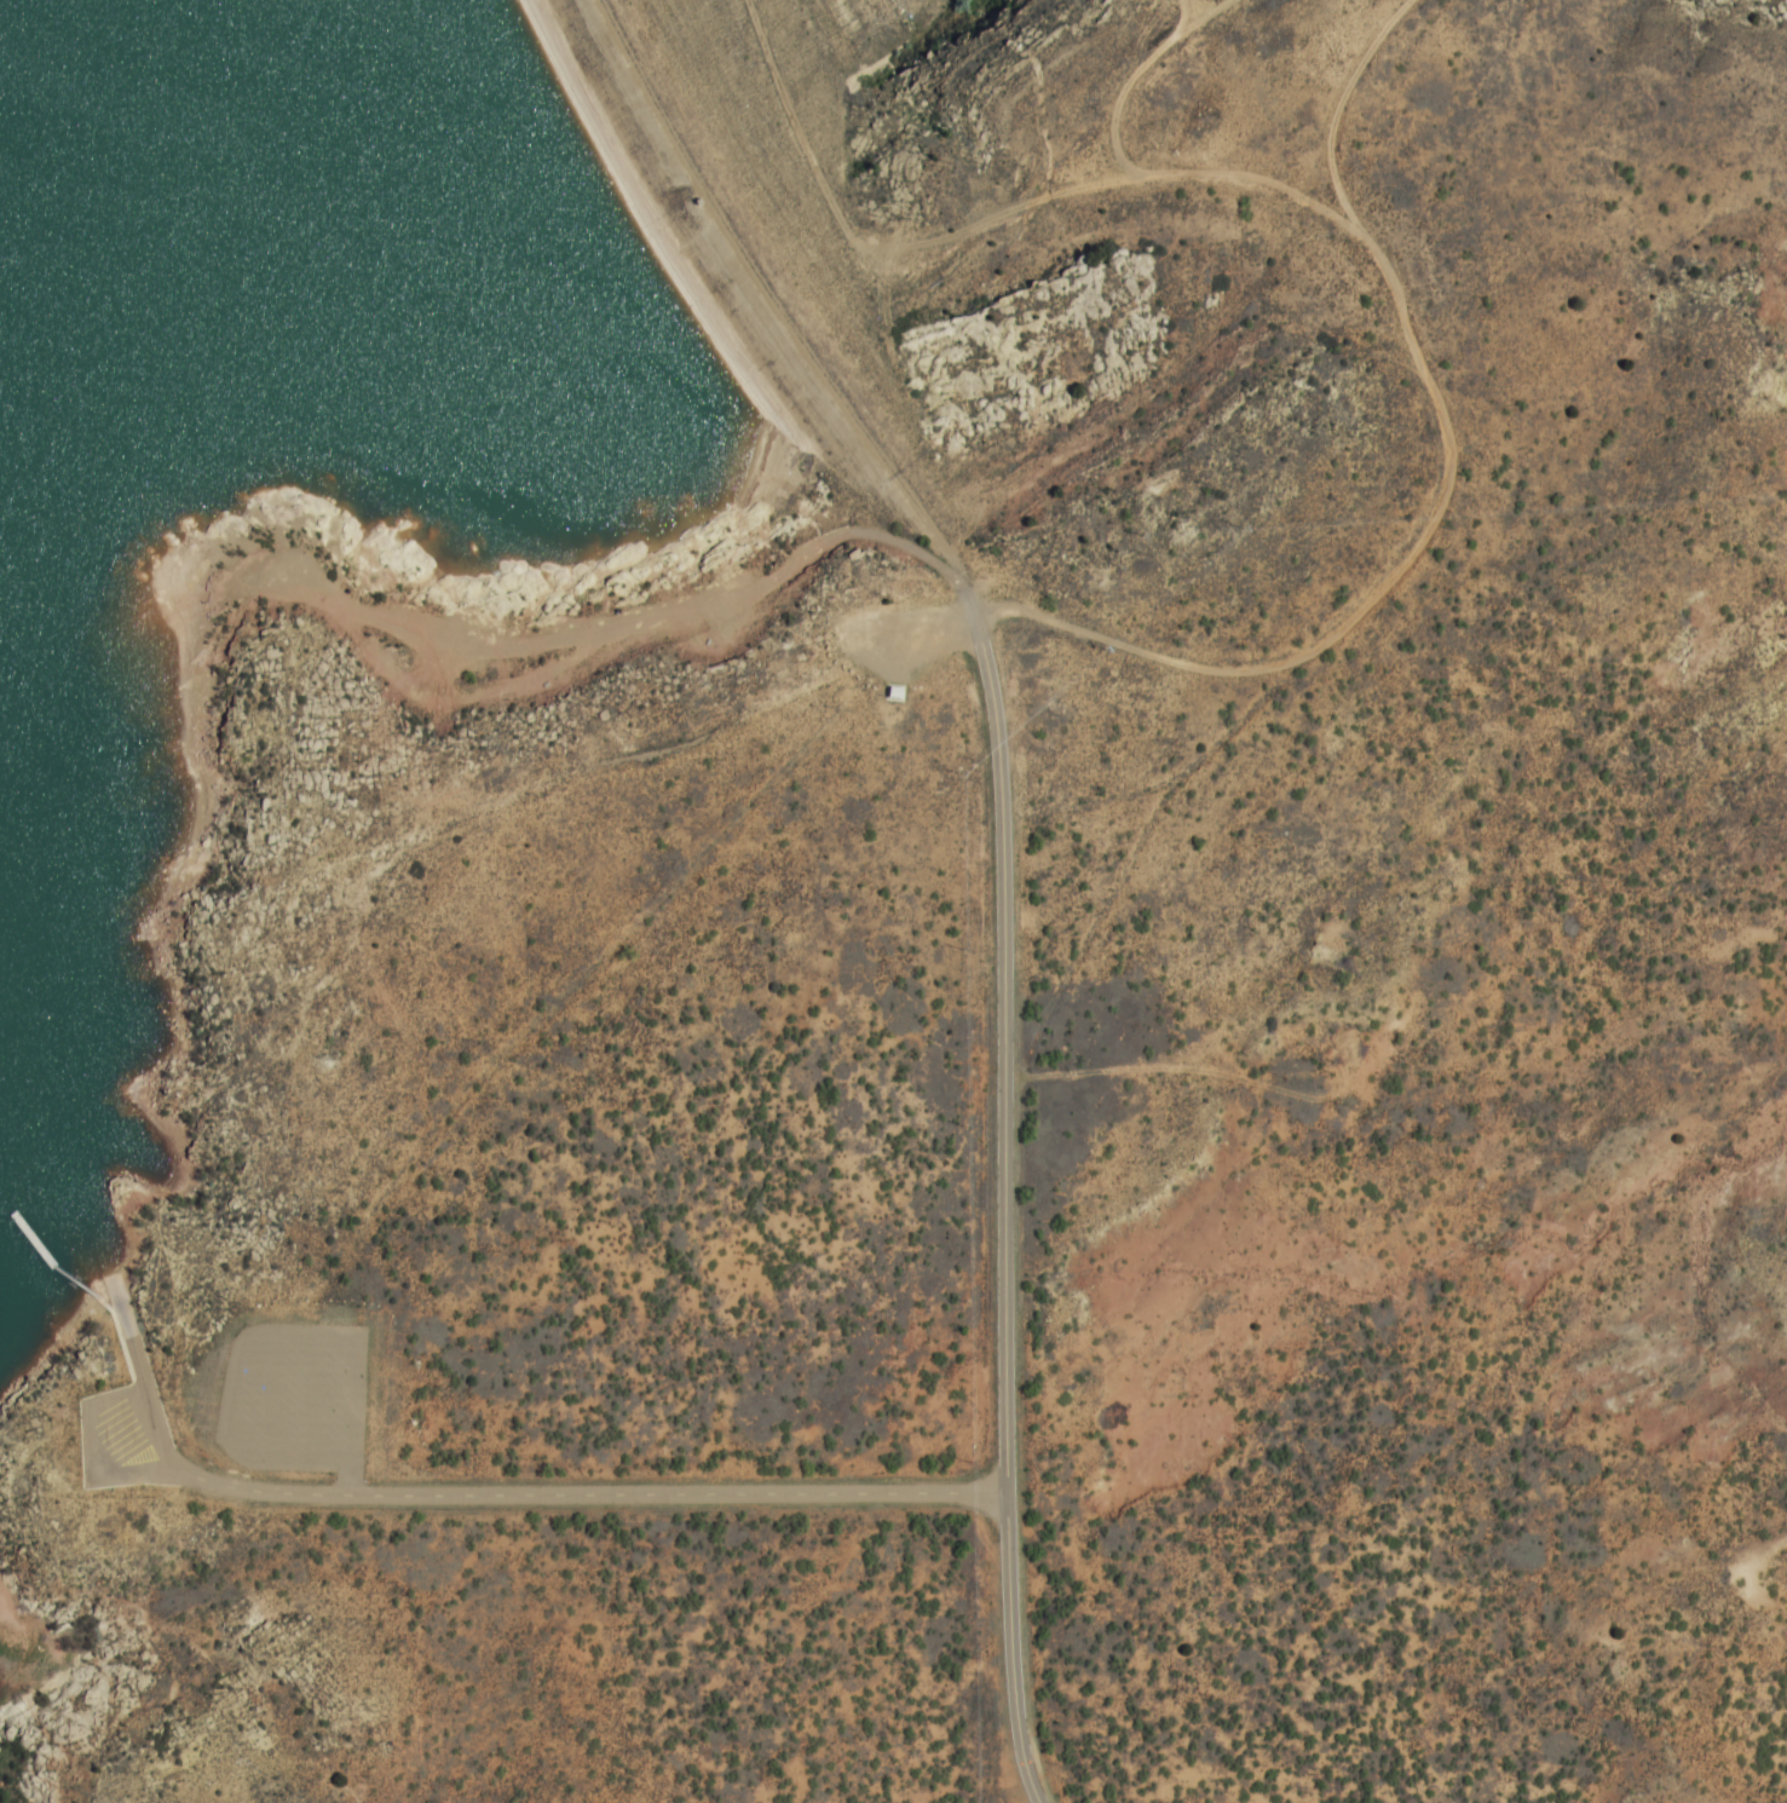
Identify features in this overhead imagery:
river: (128, 11)
dam: (759, 272)
building: (890, 693)
road: (1003, 1222)
road: (76, 1274)
road: (129, 1315)
road: (123, 1338)
parking lot: (116, 1441)
road: (94, 1457)
road: (519, 1494)

